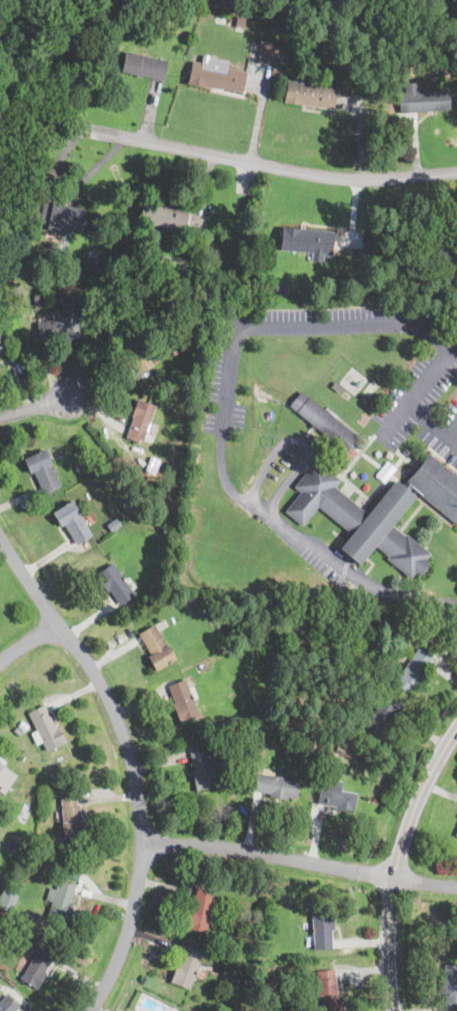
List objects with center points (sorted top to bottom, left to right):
building: (241, 22)
building: (332, 49)
building: (267, 53)
building: (144, 65)
building: (216, 75)
building: (308, 95)
building: (422, 98)
building: (378, 99)
road: (258, 113)
road: (263, 164)
building: (36, 199)
building: (59, 215)
building: (162, 215)
building: (8, 241)
building: (308, 241)
building: (49, 245)
building: (23, 256)
building: (95, 267)
building: (281, 287)
building: (17, 291)
building: (38, 299)
building: (58, 328)
building: (2, 346)
building: (173, 351)
building: (133, 352)
building: (335, 385)
road: (419, 387)
road: (34, 407)
building: (140, 420)
road: (432, 421)
building: (324, 423)
road: (223, 425)
road: (299, 442)
building: (81, 466)
building: (42, 470)
building: (435, 485)
building: (360, 518)
building: (72, 522)
building: (113, 523)
building: (150, 557)
building: (159, 559)
building: (115, 583)
building: (190, 606)
road: (26, 641)
building: (156, 646)
building: (200, 667)
building: (409, 670)
building: (183, 701)
building: (377, 721)
building: (350, 725)
building: (20, 727)
building: (45, 729)
building: (306, 734)
building: (235, 735)
road: (130, 764)
building: (202, 769)
building: (5, 778)
building: (54, 778)
building: (276, 785)
building: (335, 794)
building: (45, 805)
building: (25, 812)
building: (71, 818)
building: (456, 833)
building: (20, 843)
road: (270, 855)
road: (396, 861)
building: (72, 872)
road: (425, 881)
building: (4, 900)
building: (60, 900)
building: (200, 910)
building: (34, 916)
building: (322, 928)
building: (230, 941)
building: (295, 963)
building: (36, 967)
building: (188, 968)
building: (248, 981)
building: (450, 982)
building: (327, 991)
building: (7, 1003)

